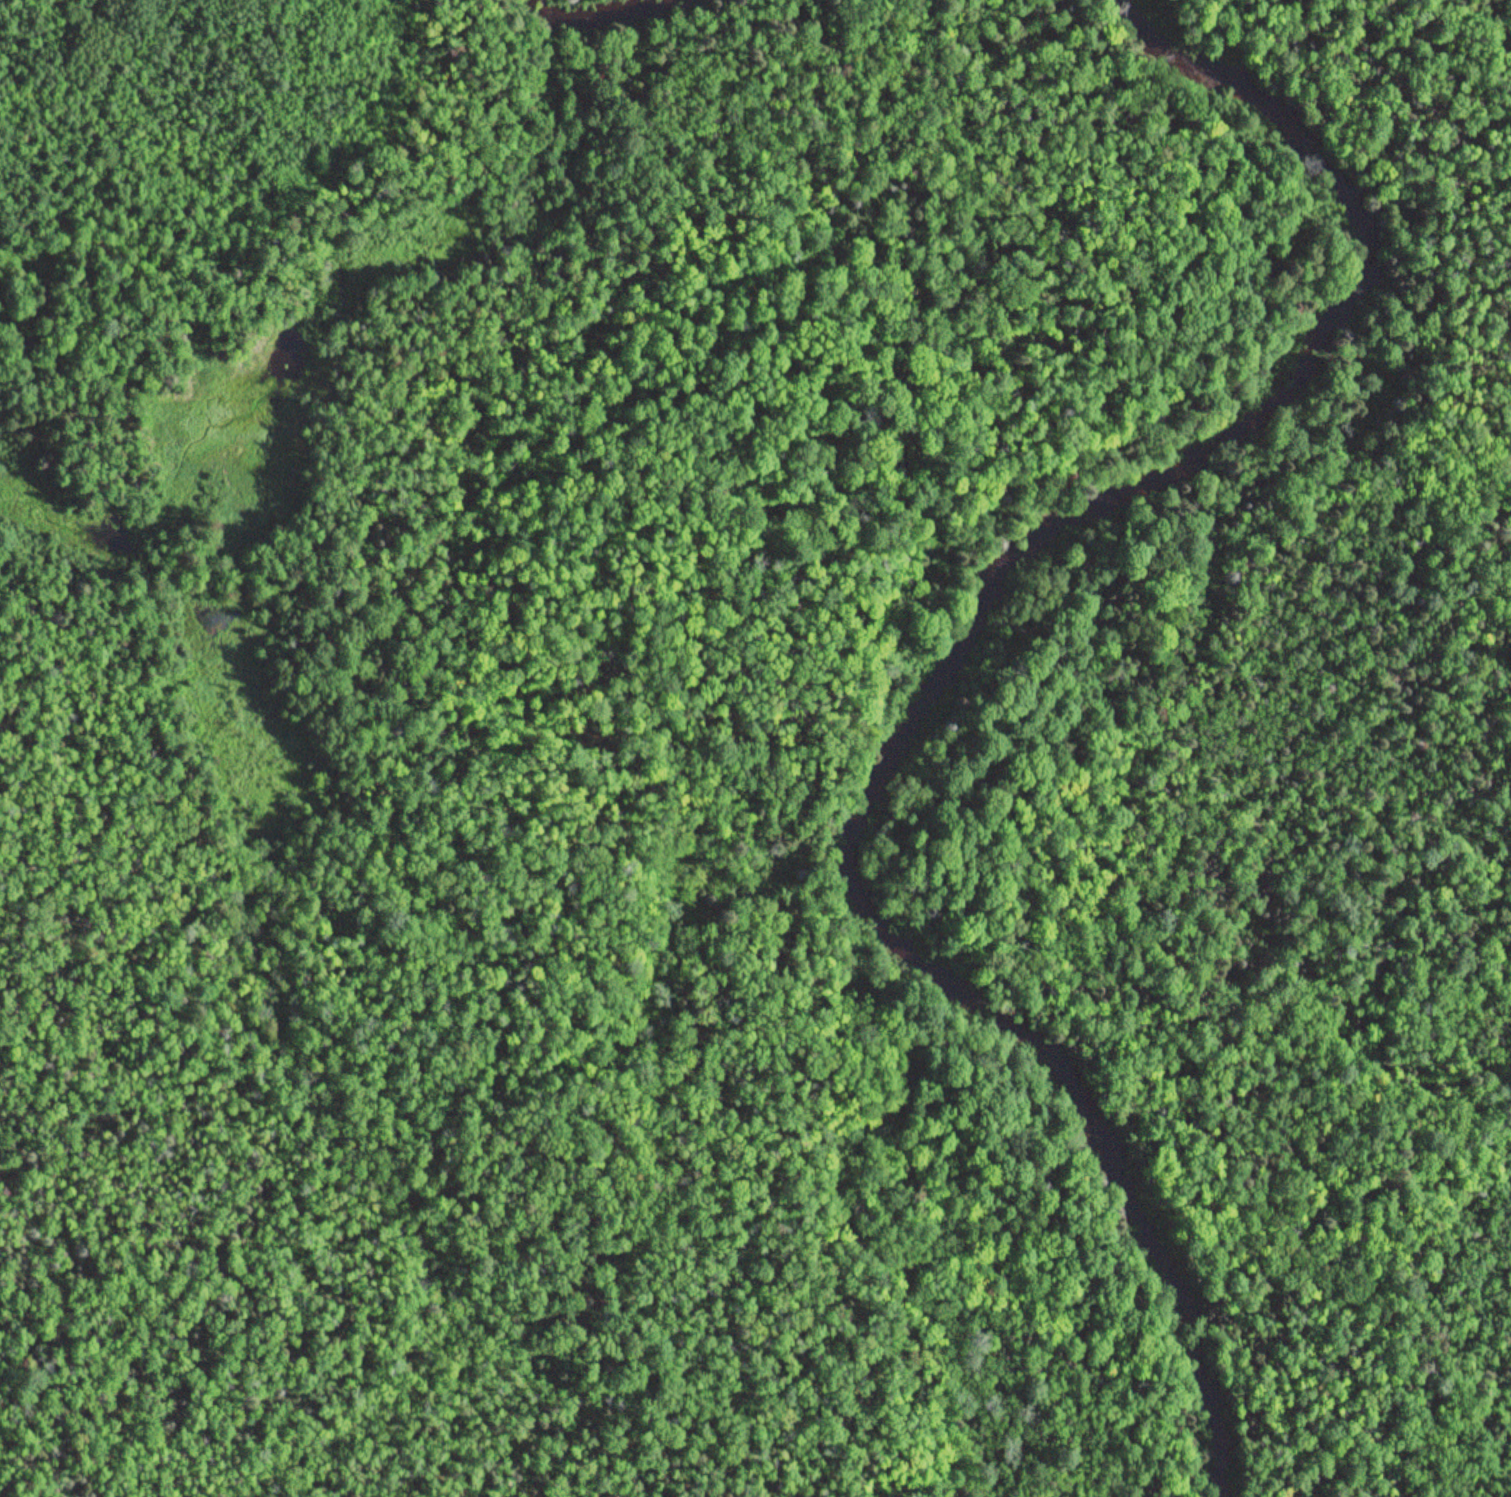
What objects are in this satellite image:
river: (575, 1)
river: (948, 659)

